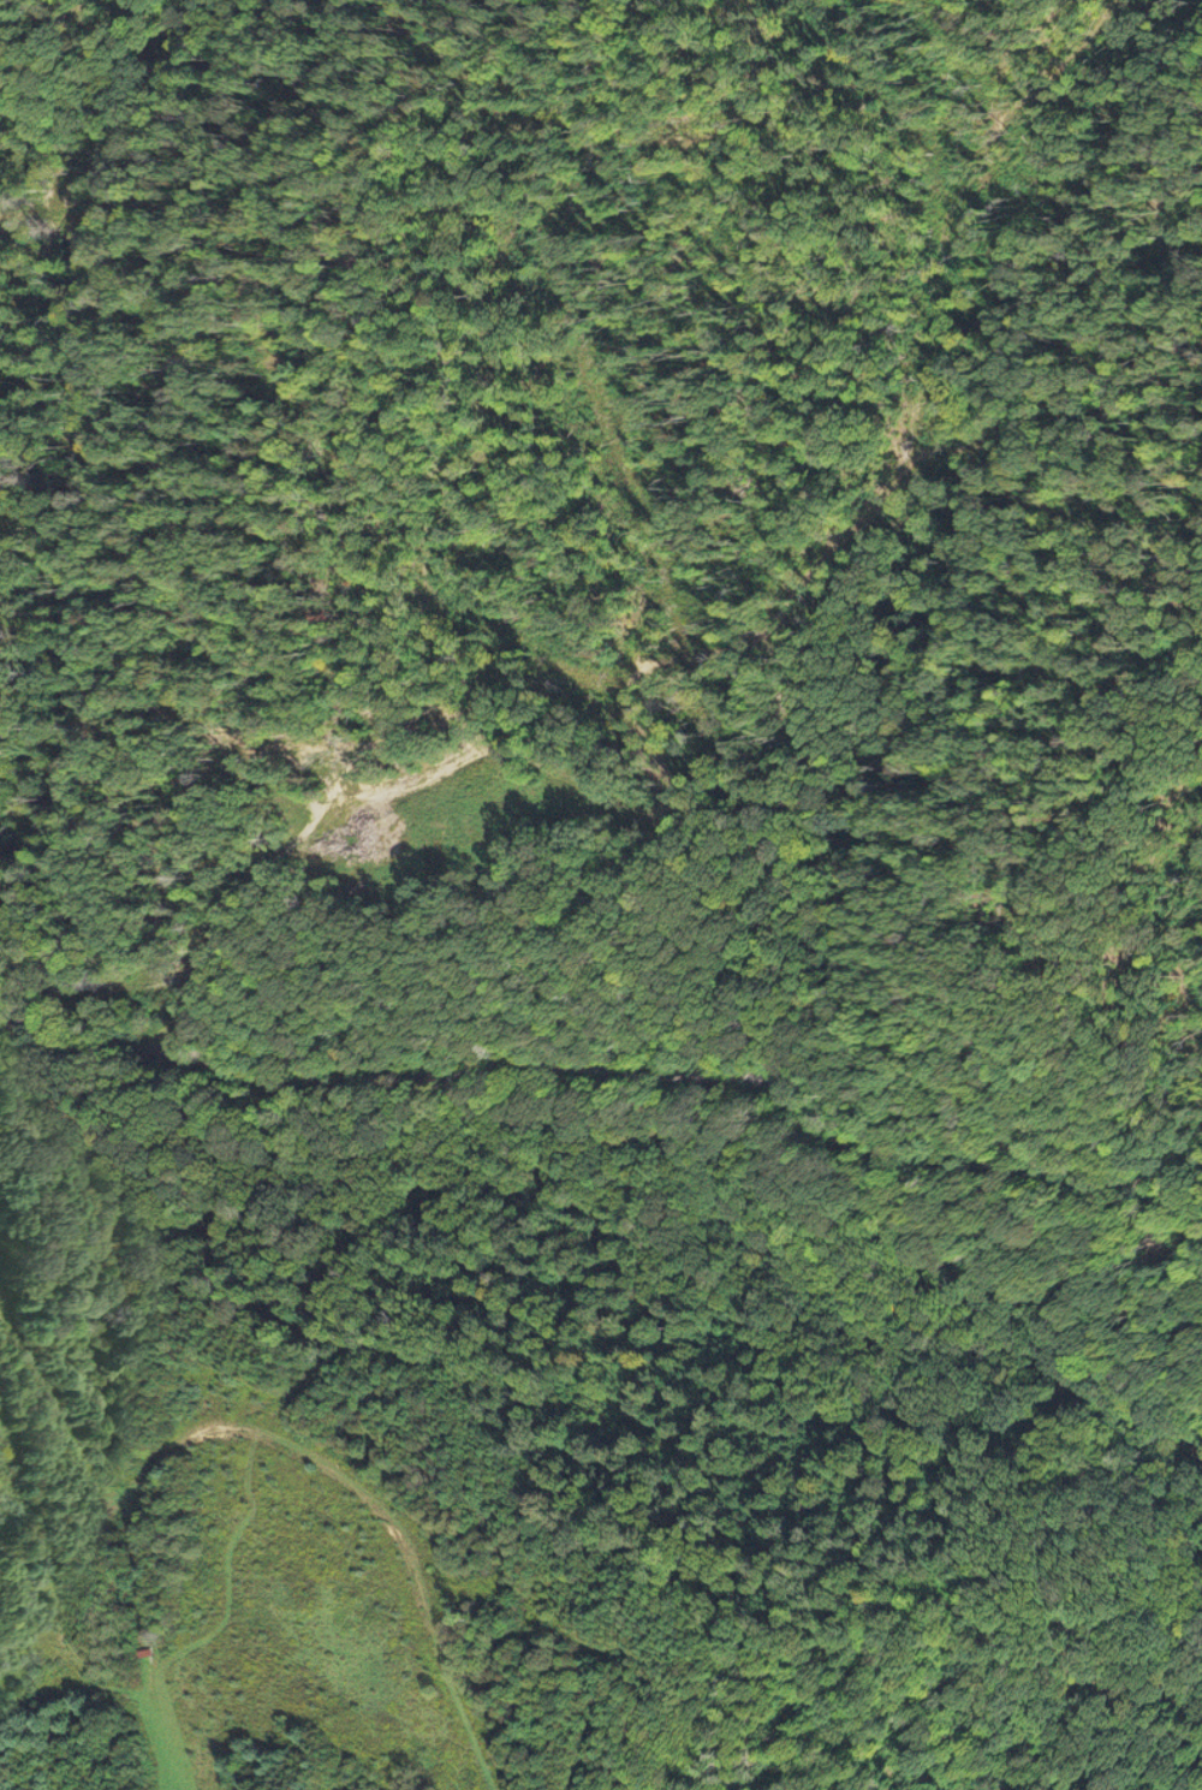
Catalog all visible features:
road: (298, 1078)
road: (898, 1159)

